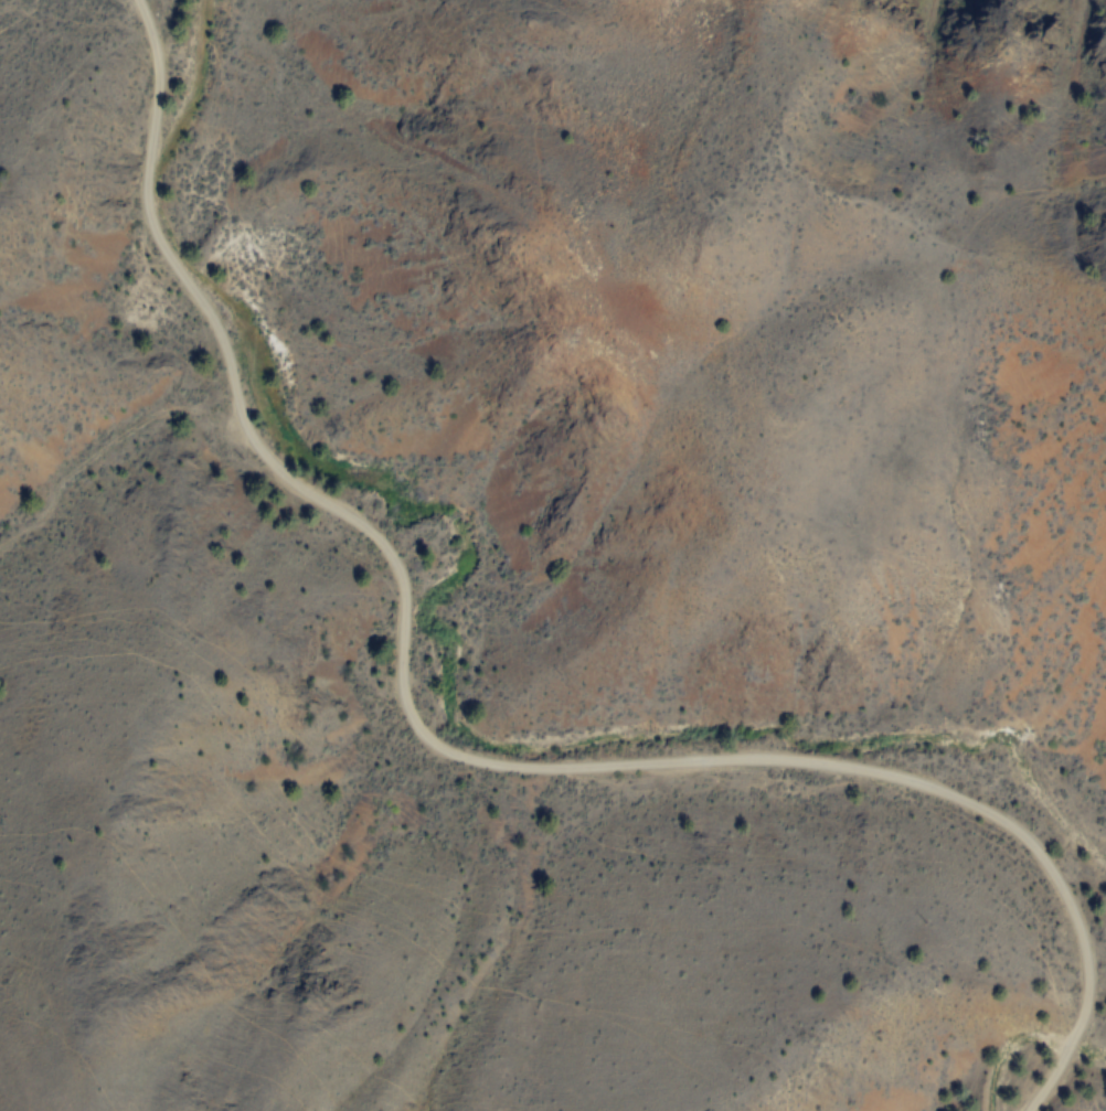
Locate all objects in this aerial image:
road: (468, 754)

